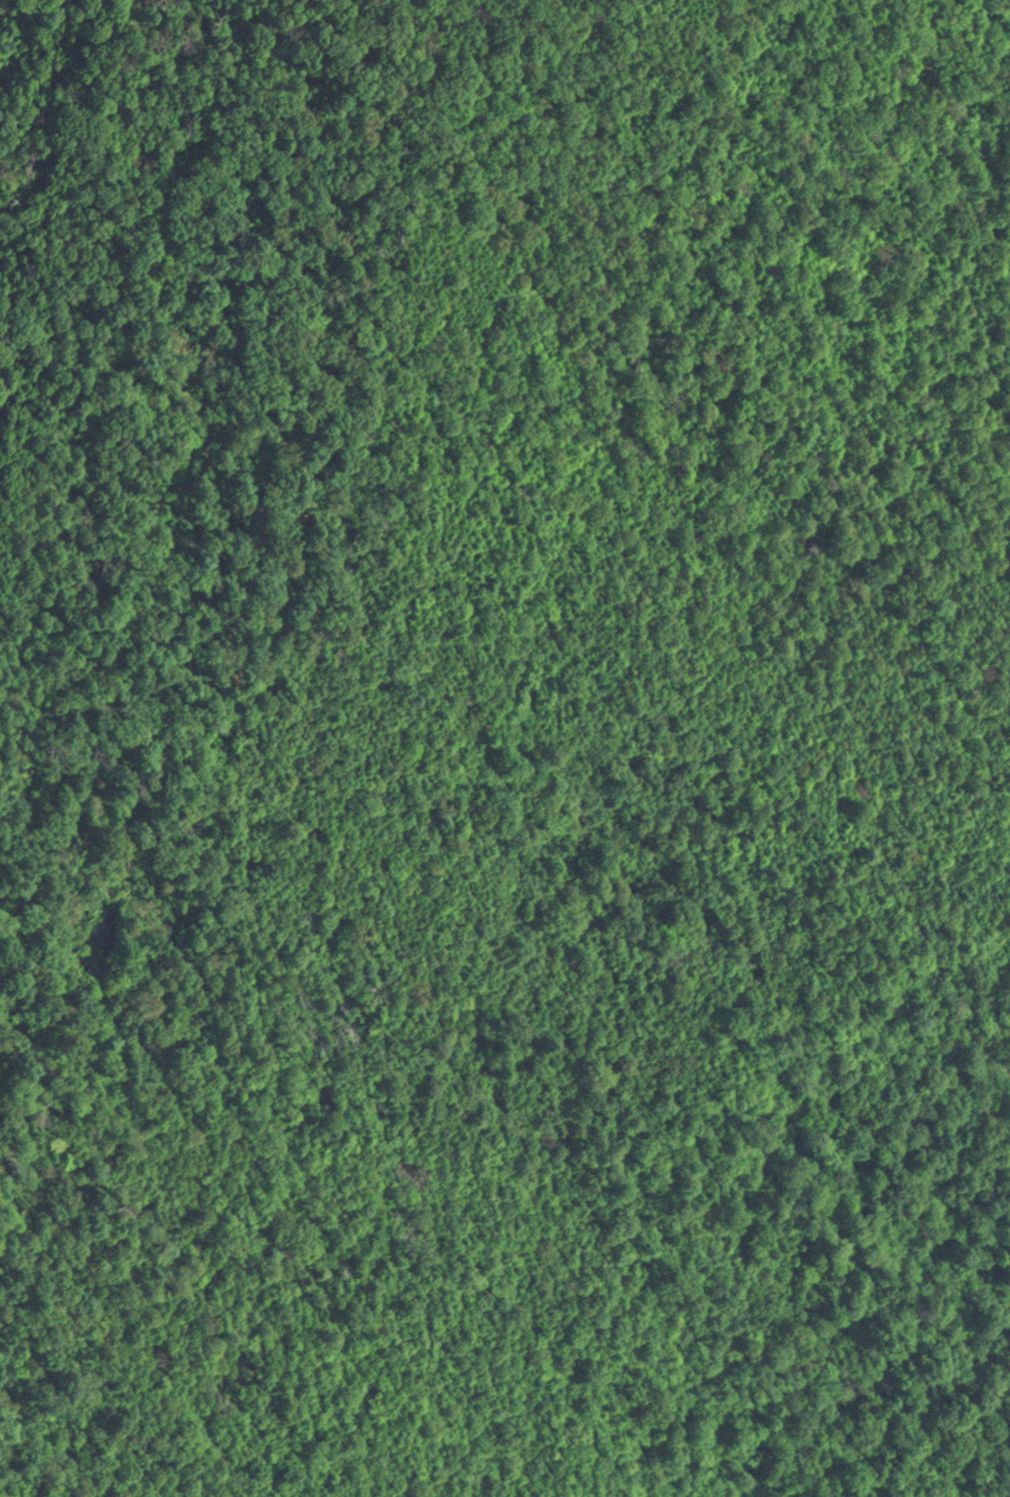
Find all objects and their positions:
road: (376, 132)
road: (125, 577)
road: (12, 1006)

